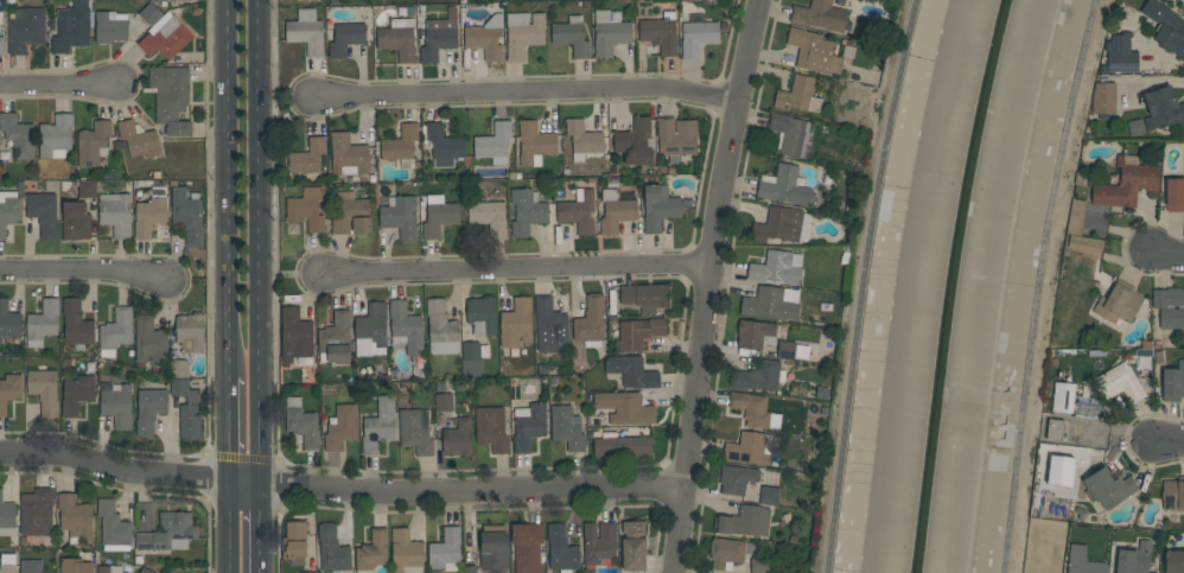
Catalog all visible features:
building: (696, 0)
building: (706, 0)
building: (159, 1)
building: (149, 14)
building: (821, 15)
building: (71, 27)
building: (110, 27)
building: (26, 31)
building: (1170, 31)
building: (306, 32)
building: (610, 32)
building: (523, 33)
building: (661, 33)
building: (165, 37)
building: (439, 37)
building: (572, 37)
building: (346, 38)
building: (486, 38)
building: (698, 38)
building: (399, 39)
building: (1, 46)
building: (813, 51)
building: (1120, 56)
road: (58, 87)
road: (523, 89)
building: (798, 95)
building: (171, 98)
building: (1103, 100)
building: (1163, 109)
building: (790, 134)
building: (18, 136)
building: (56, 136)
building: (676, 138)
building: (139, 140)
building: (583, 140)
building: (635, 142)
building: (94, 144)
building: (494, 144)
building: (535, 144)
building: (401, 146)
building: (443, 146)
building: (348, 155)
building: (308, 159)
building: (1126, 184)
building: (785, 187)
building: (87, 189)
road: (229, 189)
building: (1175, 193)
building: (660, 208)
building: (306, 209)
building: (8, 211)
building: (527, 211)
building: (579, 211)
building: (616, 212)
building: (43, 214)
building: (116, 214)
building: (187, 215)
building: (148, 216)
building: (351, 216)
building: (400, 216)
building: (439, 217)
building: (489, 217)
building: (1075, 217)
building: (76, 222)
building: (782, 225)
road: (260, 241)
building: (1084, 244)
road: (1166, 255)
building: (777, 268)
road: (514, 270)
road: (81, 272)
building: (1102, 275)
road: (705, 284)
road: (862, 285)
road: (1038, 285)
building: (645, 297)
building: (772, 304)
building: (1120, 304)
building: (1170, 307)
building: (482, 316)
building: (549, 320)
building: (8, 321)
building: (591, 321)
building: (43, 323)
building: (516, 324)
building: (76, 325)
building: (406, 329)
building: (441, 329)
building: (116, 330)
building: (371, 331)
building: (190, 332)
building: (638, 332)
building: (755, 335)
building: (295, 336)
building: (335, 339)
building: (149, 342)
building: (787, 350)
building: (475, 351)
building: (179, 369)
building: (632, 371)
building: (757, 376)
building: (1173, 382)
building: (1121, 383)
building: (9, 391)
building: (44, 391)
building: (77, 395)
building: (1063, 397)
building: (444, 402)
building: (117, 405)
building: (151, 406)
building: (625, 408)
building: (751, 408)
building: (187, 409)
building: (303, 424)
building: (378, 425)
building: (528, 426)
building: (340, 427)
building: (492, 428)
building: (566, 428)
road: (230, 429)
building: (1055, 429)
building: (416, 431)
building: (458, 438)
road: (1170, 444)
building: (622, 446)
building: (749, 448)
building: (1084, 454)
building: (1059, 471)
building: (737, 479)
building: (1108, 488)
road: (342, 489)
building: (1173, 495)
building: (769, 496)
building: (1051, 499)
building: (37, 514)
building: (7, 516)
building: (75, 516)
building: (744, 522)
road: (230, 527)
building: (113, 528)
road: (261, 528)
building: (170, 533)
building: (598, 542)
building: (294, 543)
building: (527, 546)
building: (634, 546)
building: (1043, 546)
building: (332, 549)
building: (494, 549)
building: (561, 549)
building: (405, 550)
building: (446, 550)
building: (373, 552)
building: (728, 553)
building: (1133, 558)
building: (1082, 561)
building: (1173, 561)
building: (8, 562)
building: (31, 566)
building: (75, 566)
building: (759, 566)
building: (109, 569)
building: (469, 569)
building: (145, 571)
building: (168, 572)
building: (304, 572)

